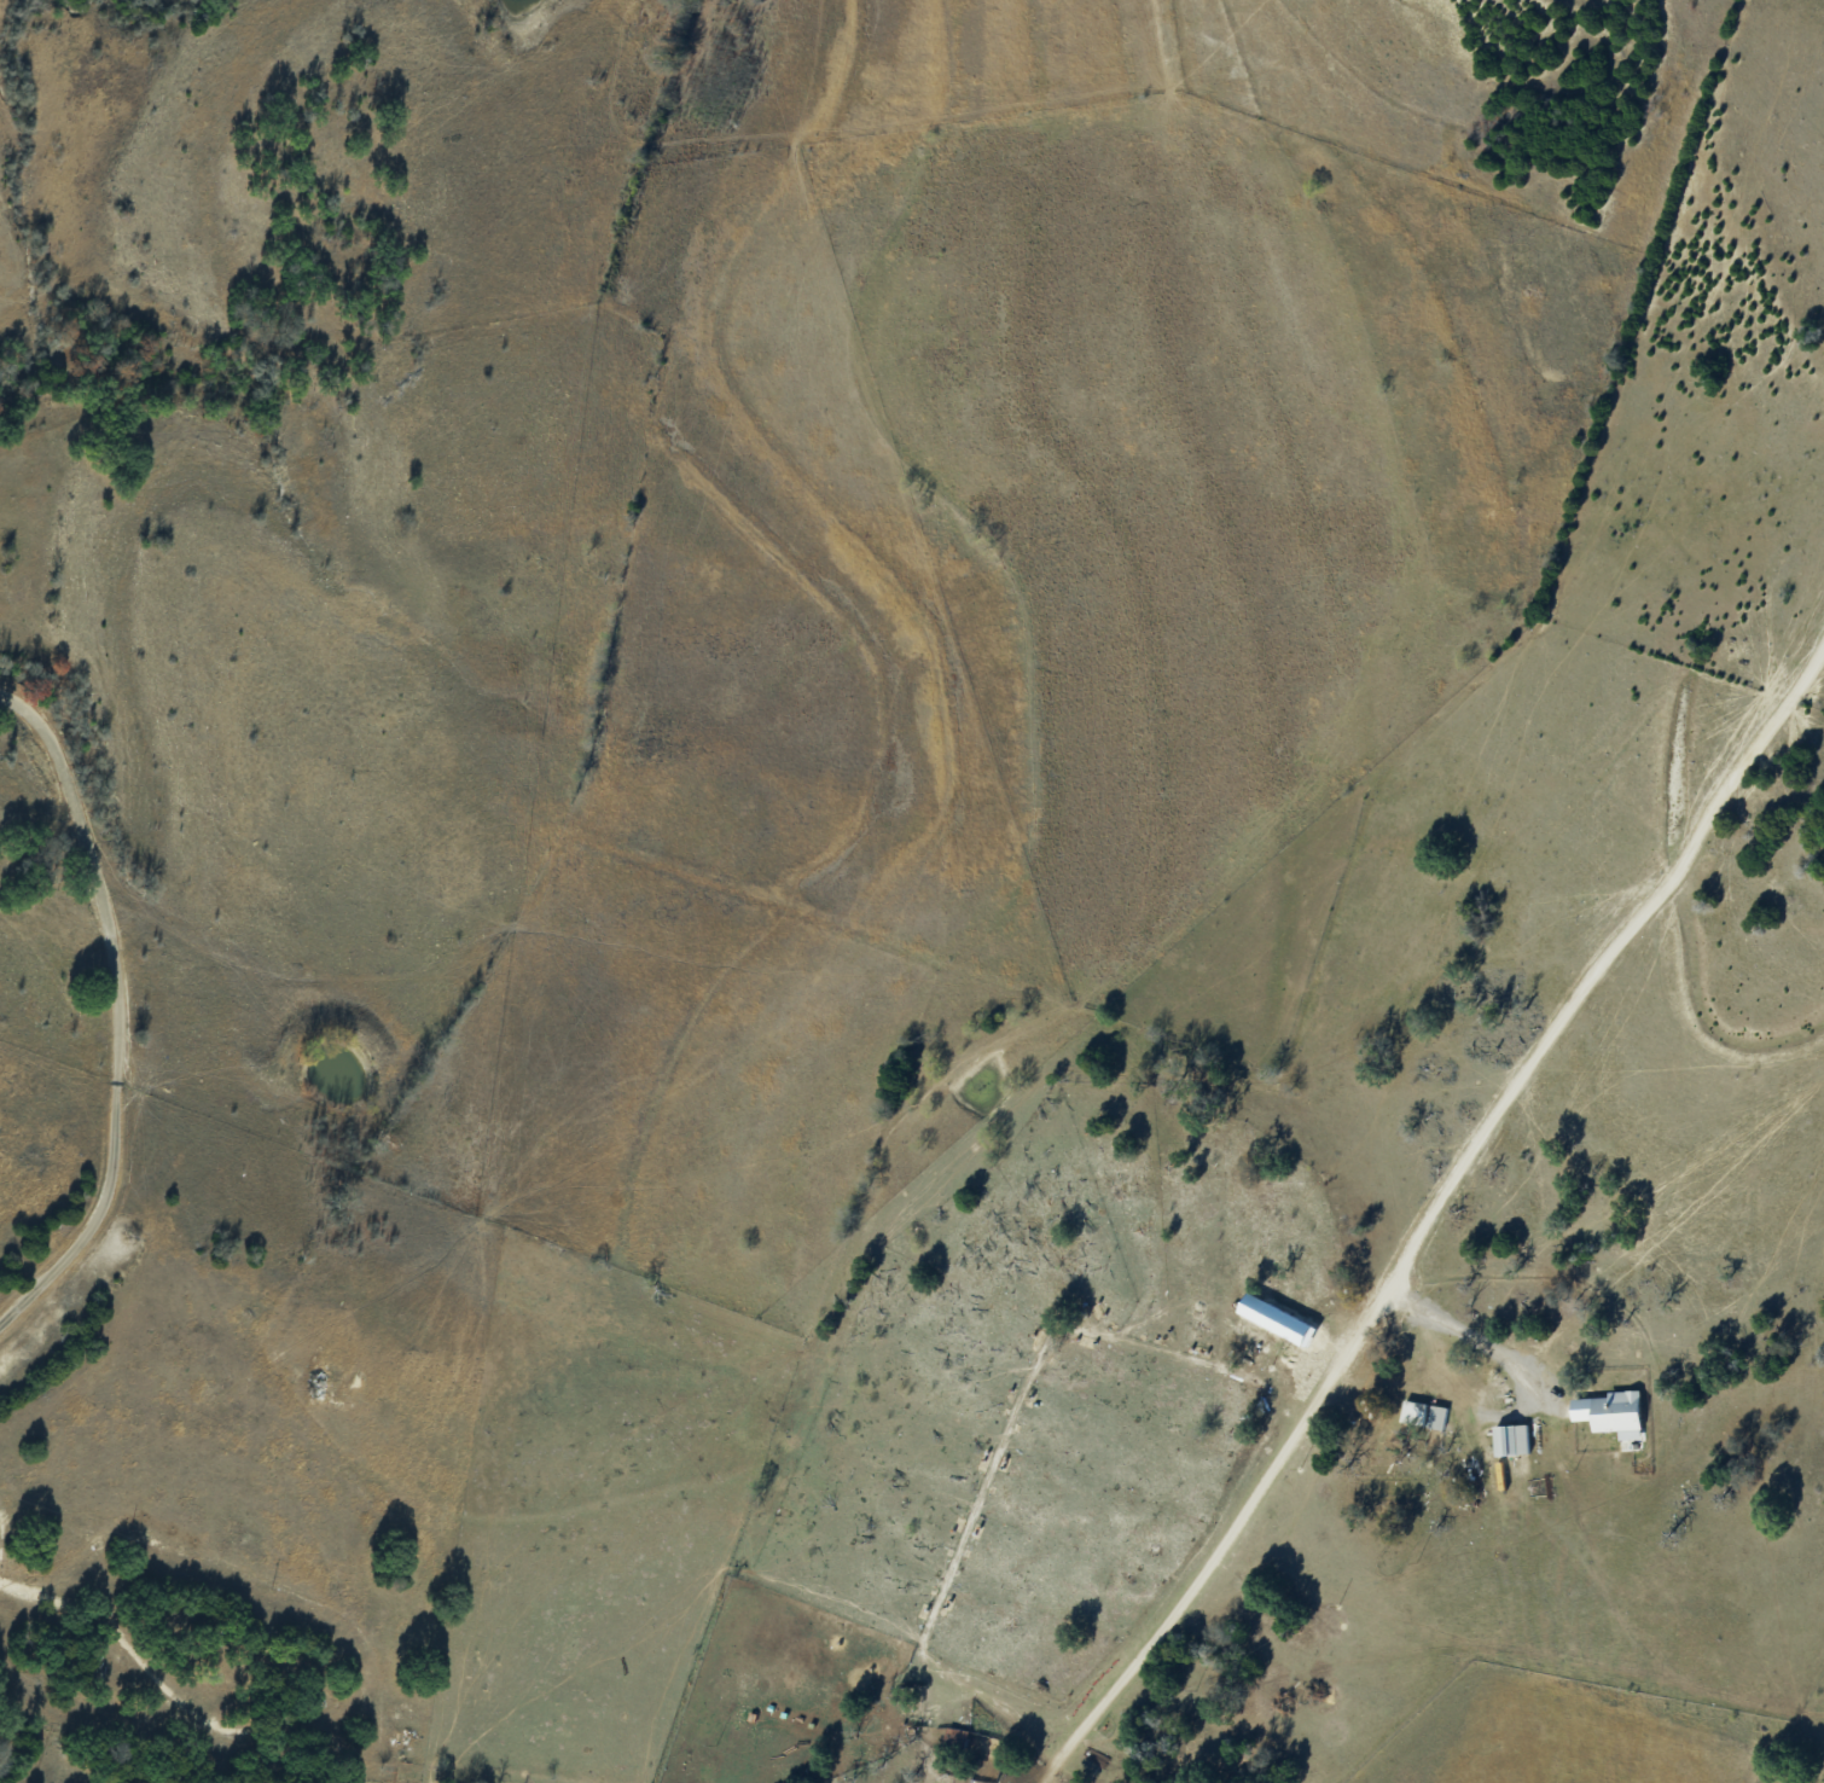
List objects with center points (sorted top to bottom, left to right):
road: (111, 1009)
road: (1427, 1214)
building: (1615, 1411)
building: (1413, 1413)
building: (1436, 1417)
building: (1510, 1440)
building: (955, 1740)

